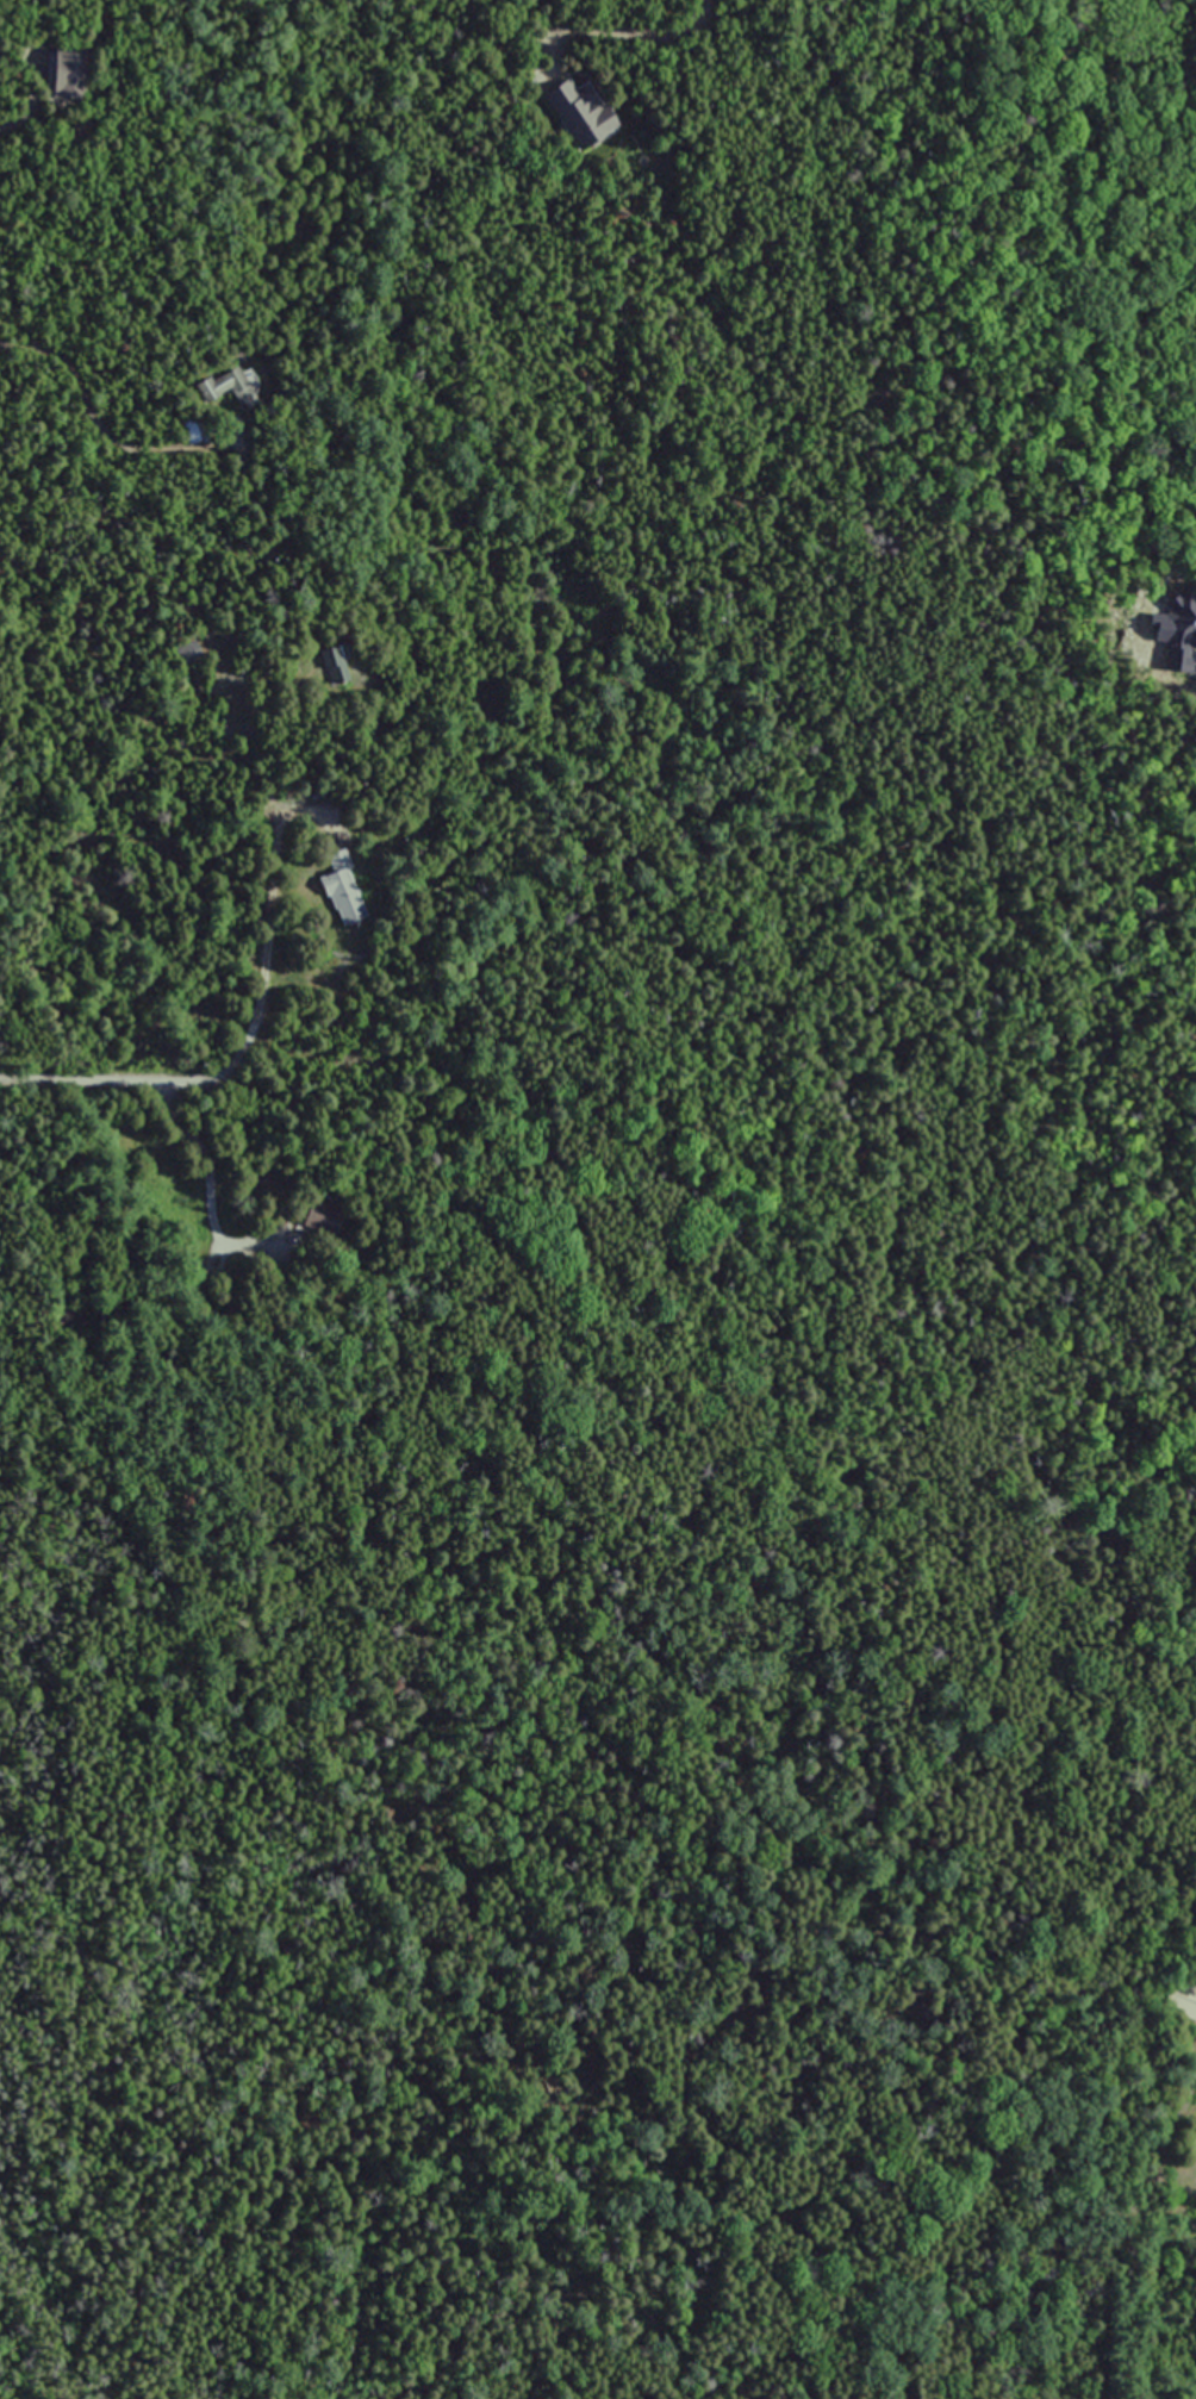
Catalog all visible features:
road: (641, 33)
building: (69, 74)
building: (578, 111)
road: (13, 125)
building: (229, 386)
road: (86, 411)
road: (96, 625)
building: (341, 891)
road: (224, 1080)
road: (81, 1082)

